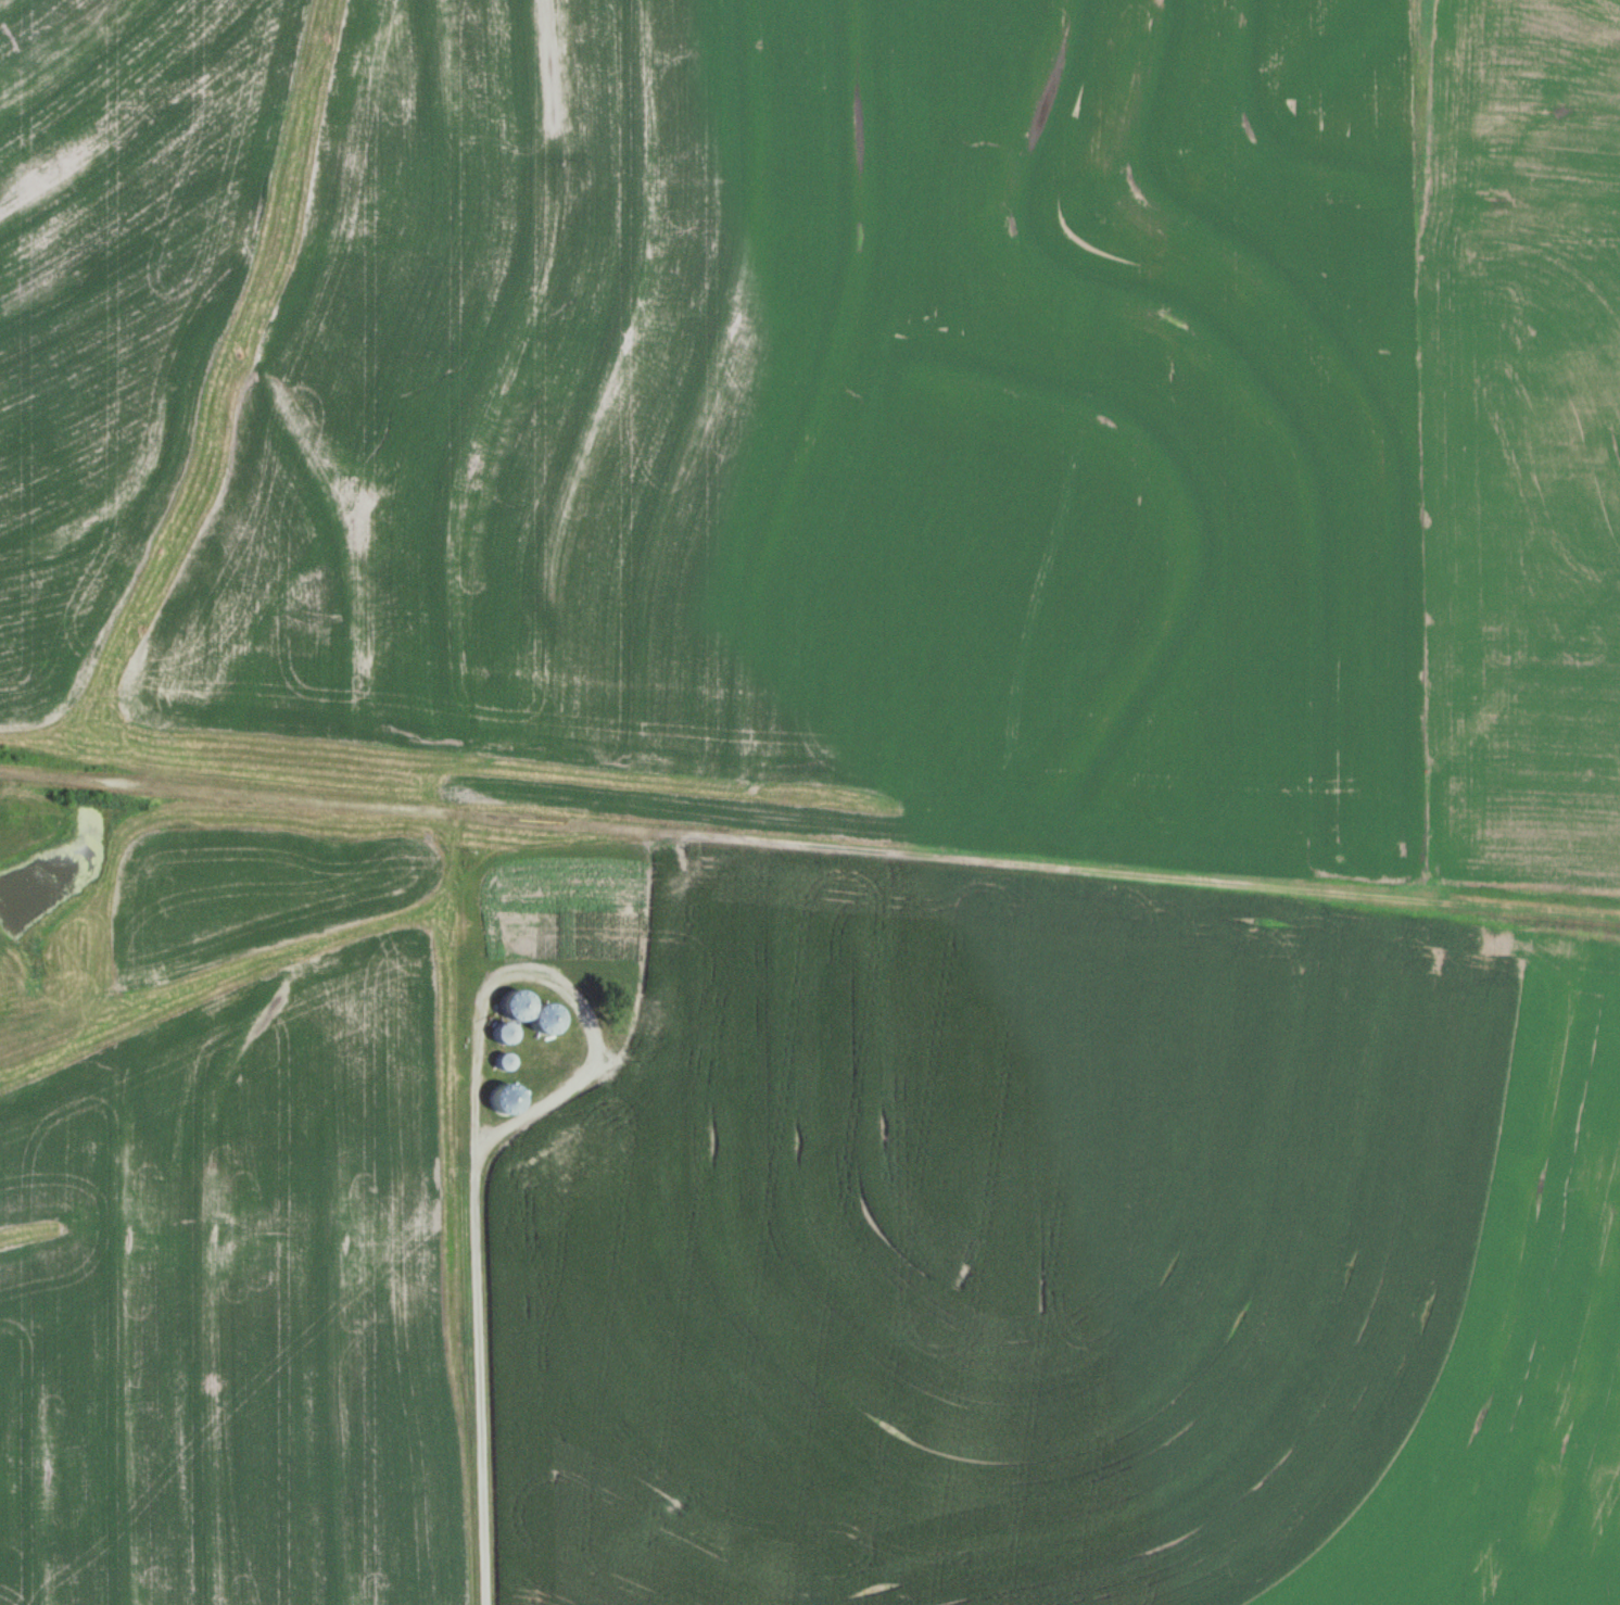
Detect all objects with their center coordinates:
building: (514, 1004)
building: (501, 1032)
building: (502, 1061)
road: (480, 1370)

